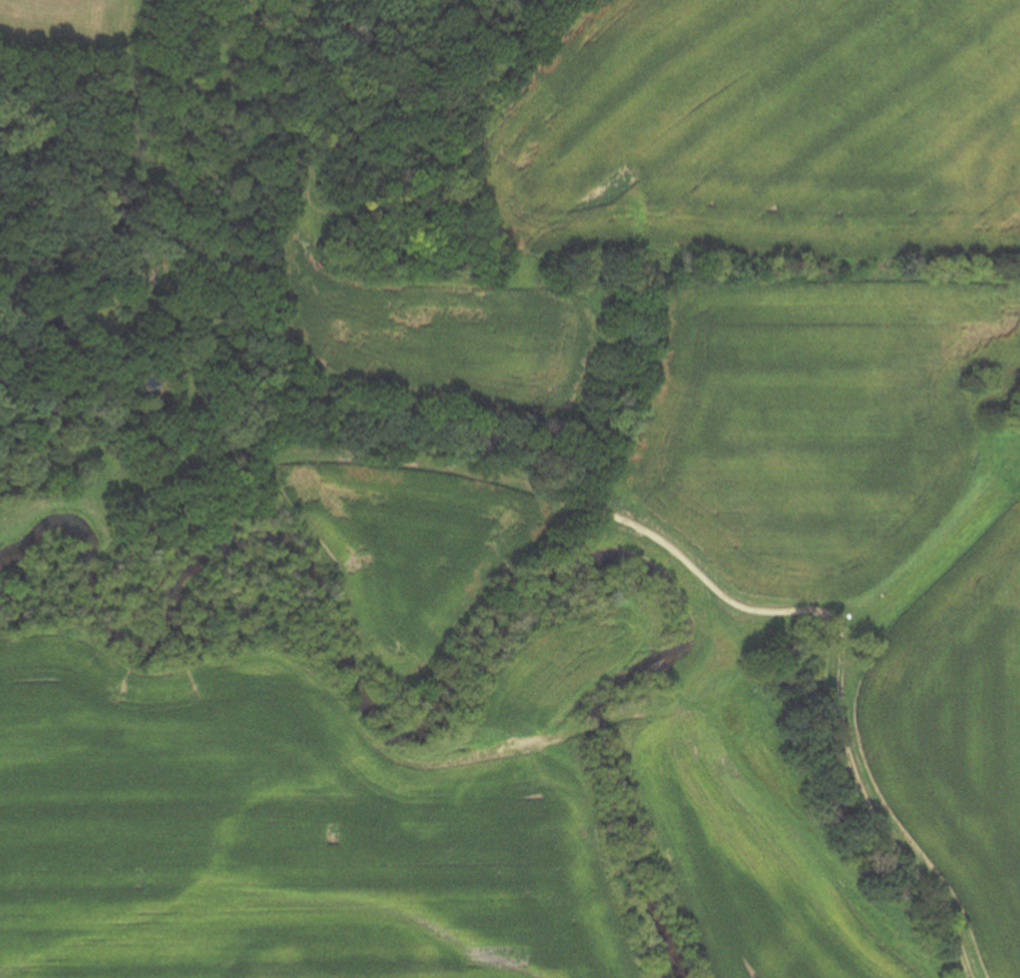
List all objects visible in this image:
building: (150, 379)

